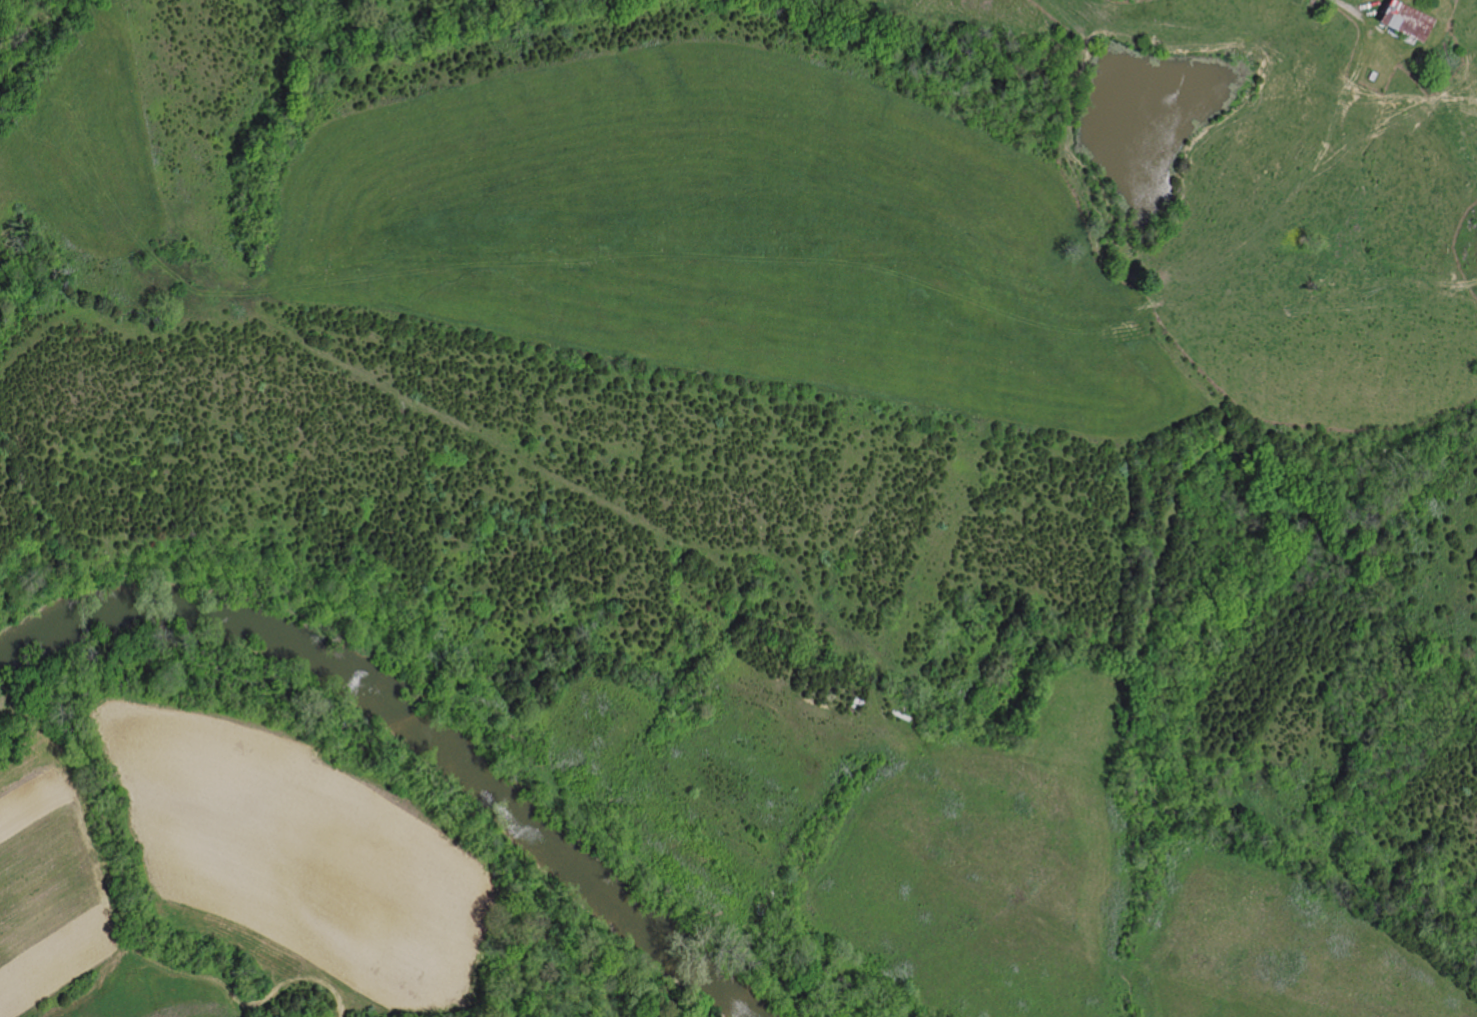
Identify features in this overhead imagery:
road: (1346, 5)
building: (1400, 21)
crop: (295, 850)
crop: (47, 884)
road: (308, 978)

